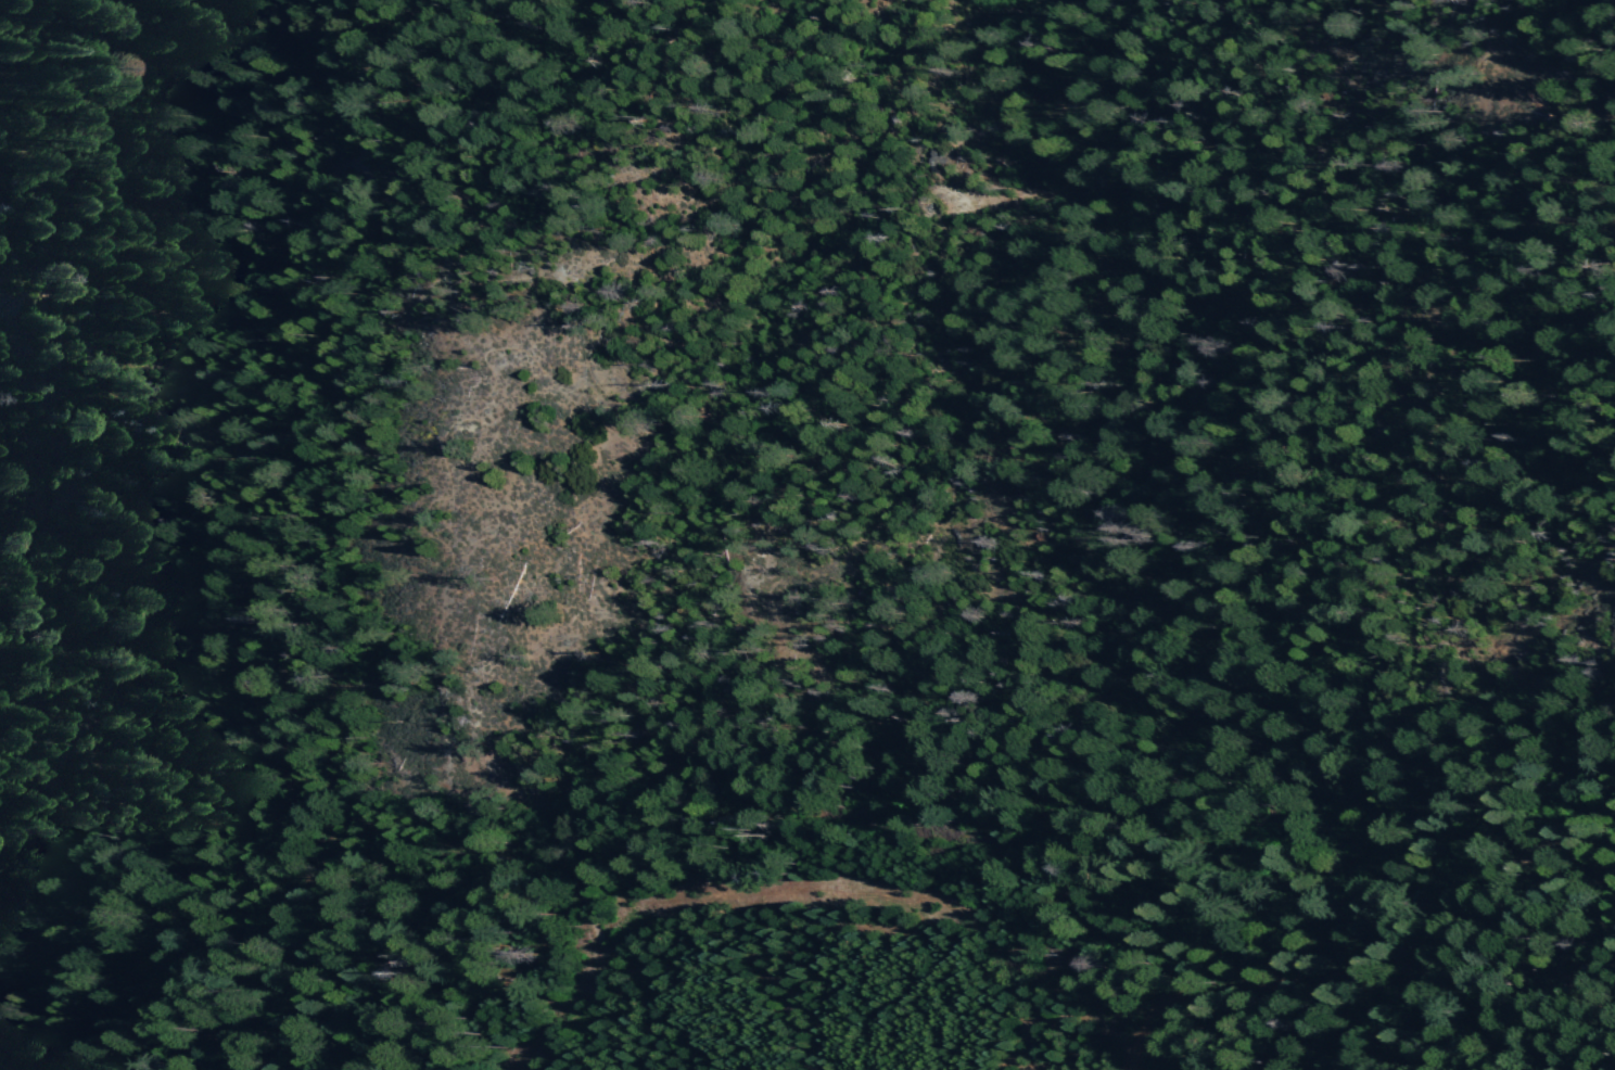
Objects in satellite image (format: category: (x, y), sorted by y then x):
road: (1374, 951)

